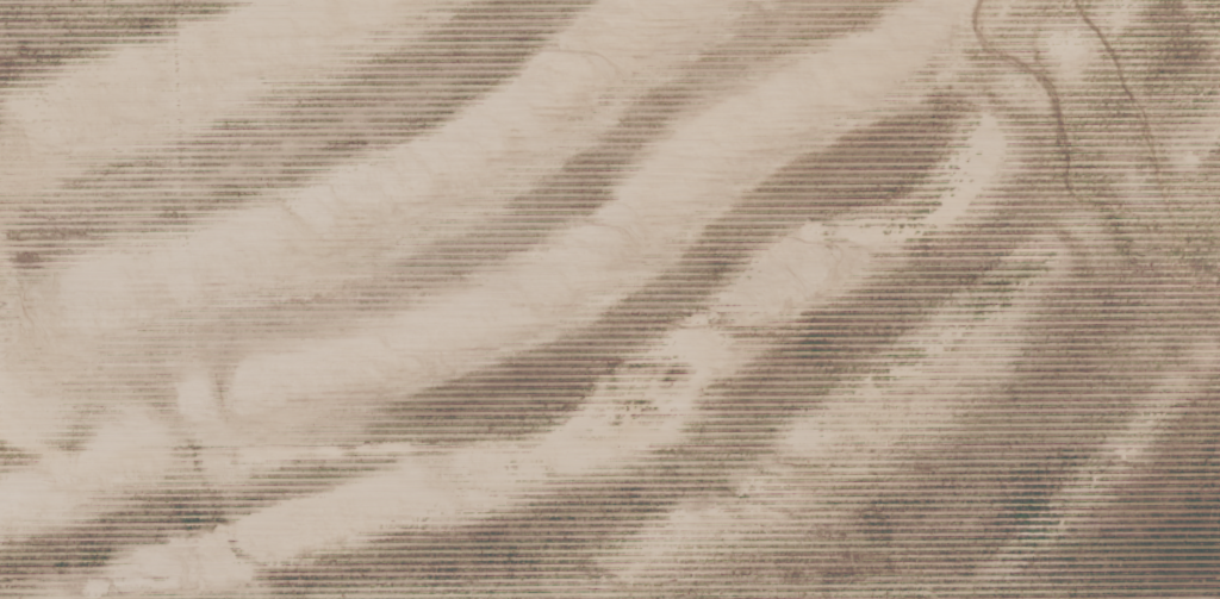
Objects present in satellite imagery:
road: (4, 370)
road: (331, 412)

